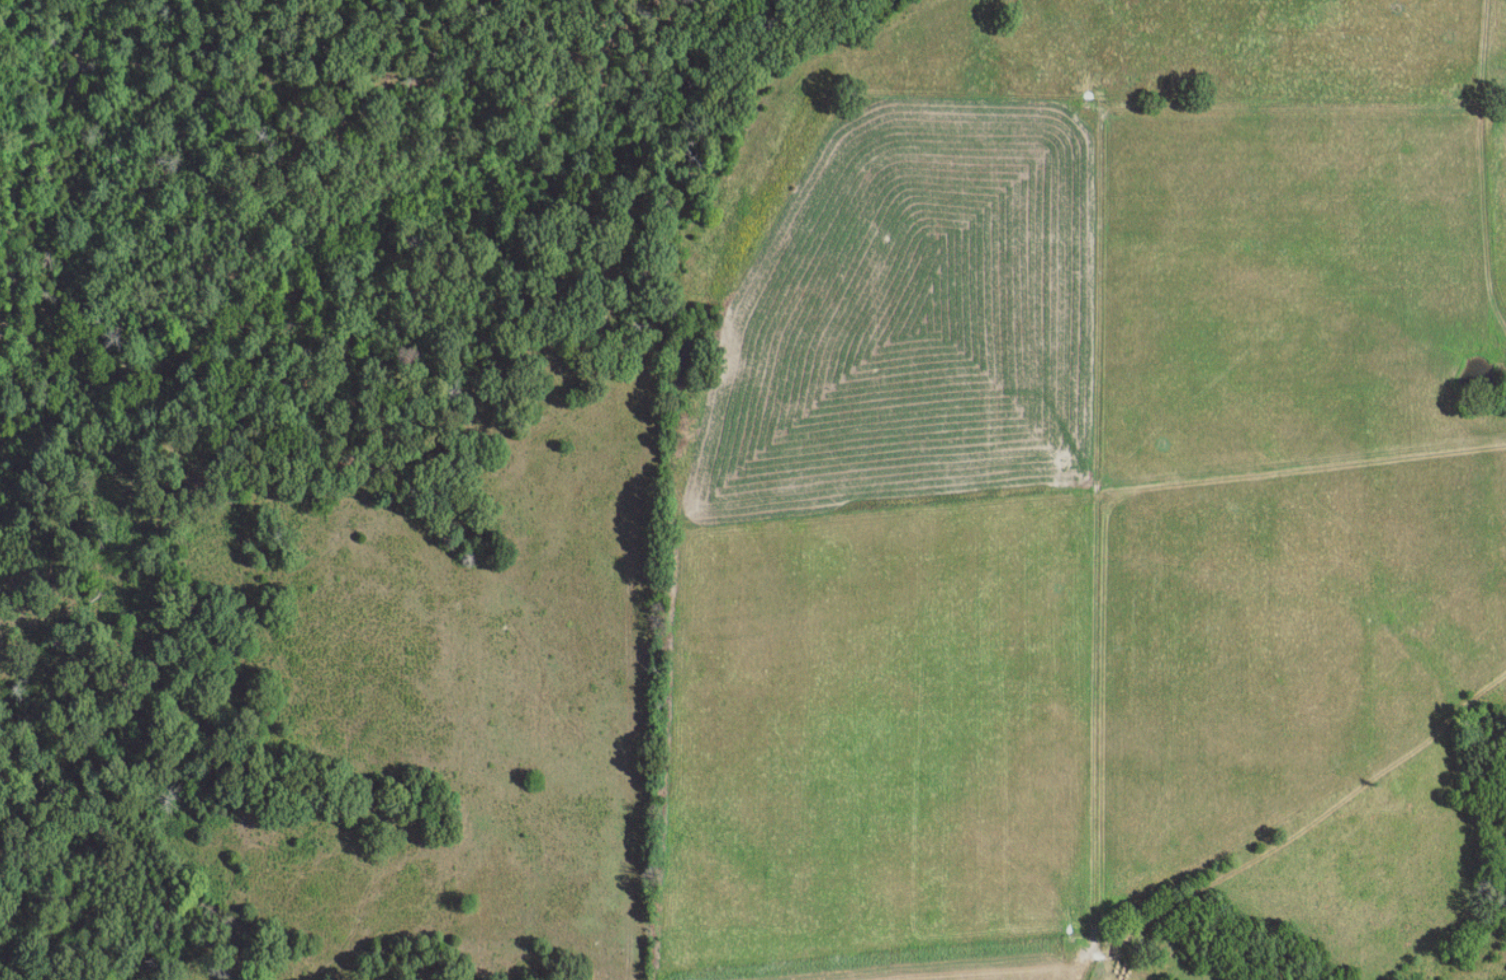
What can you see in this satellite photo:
road: (784, 219)
road: (1098, 514)
road: (1287, 820)

